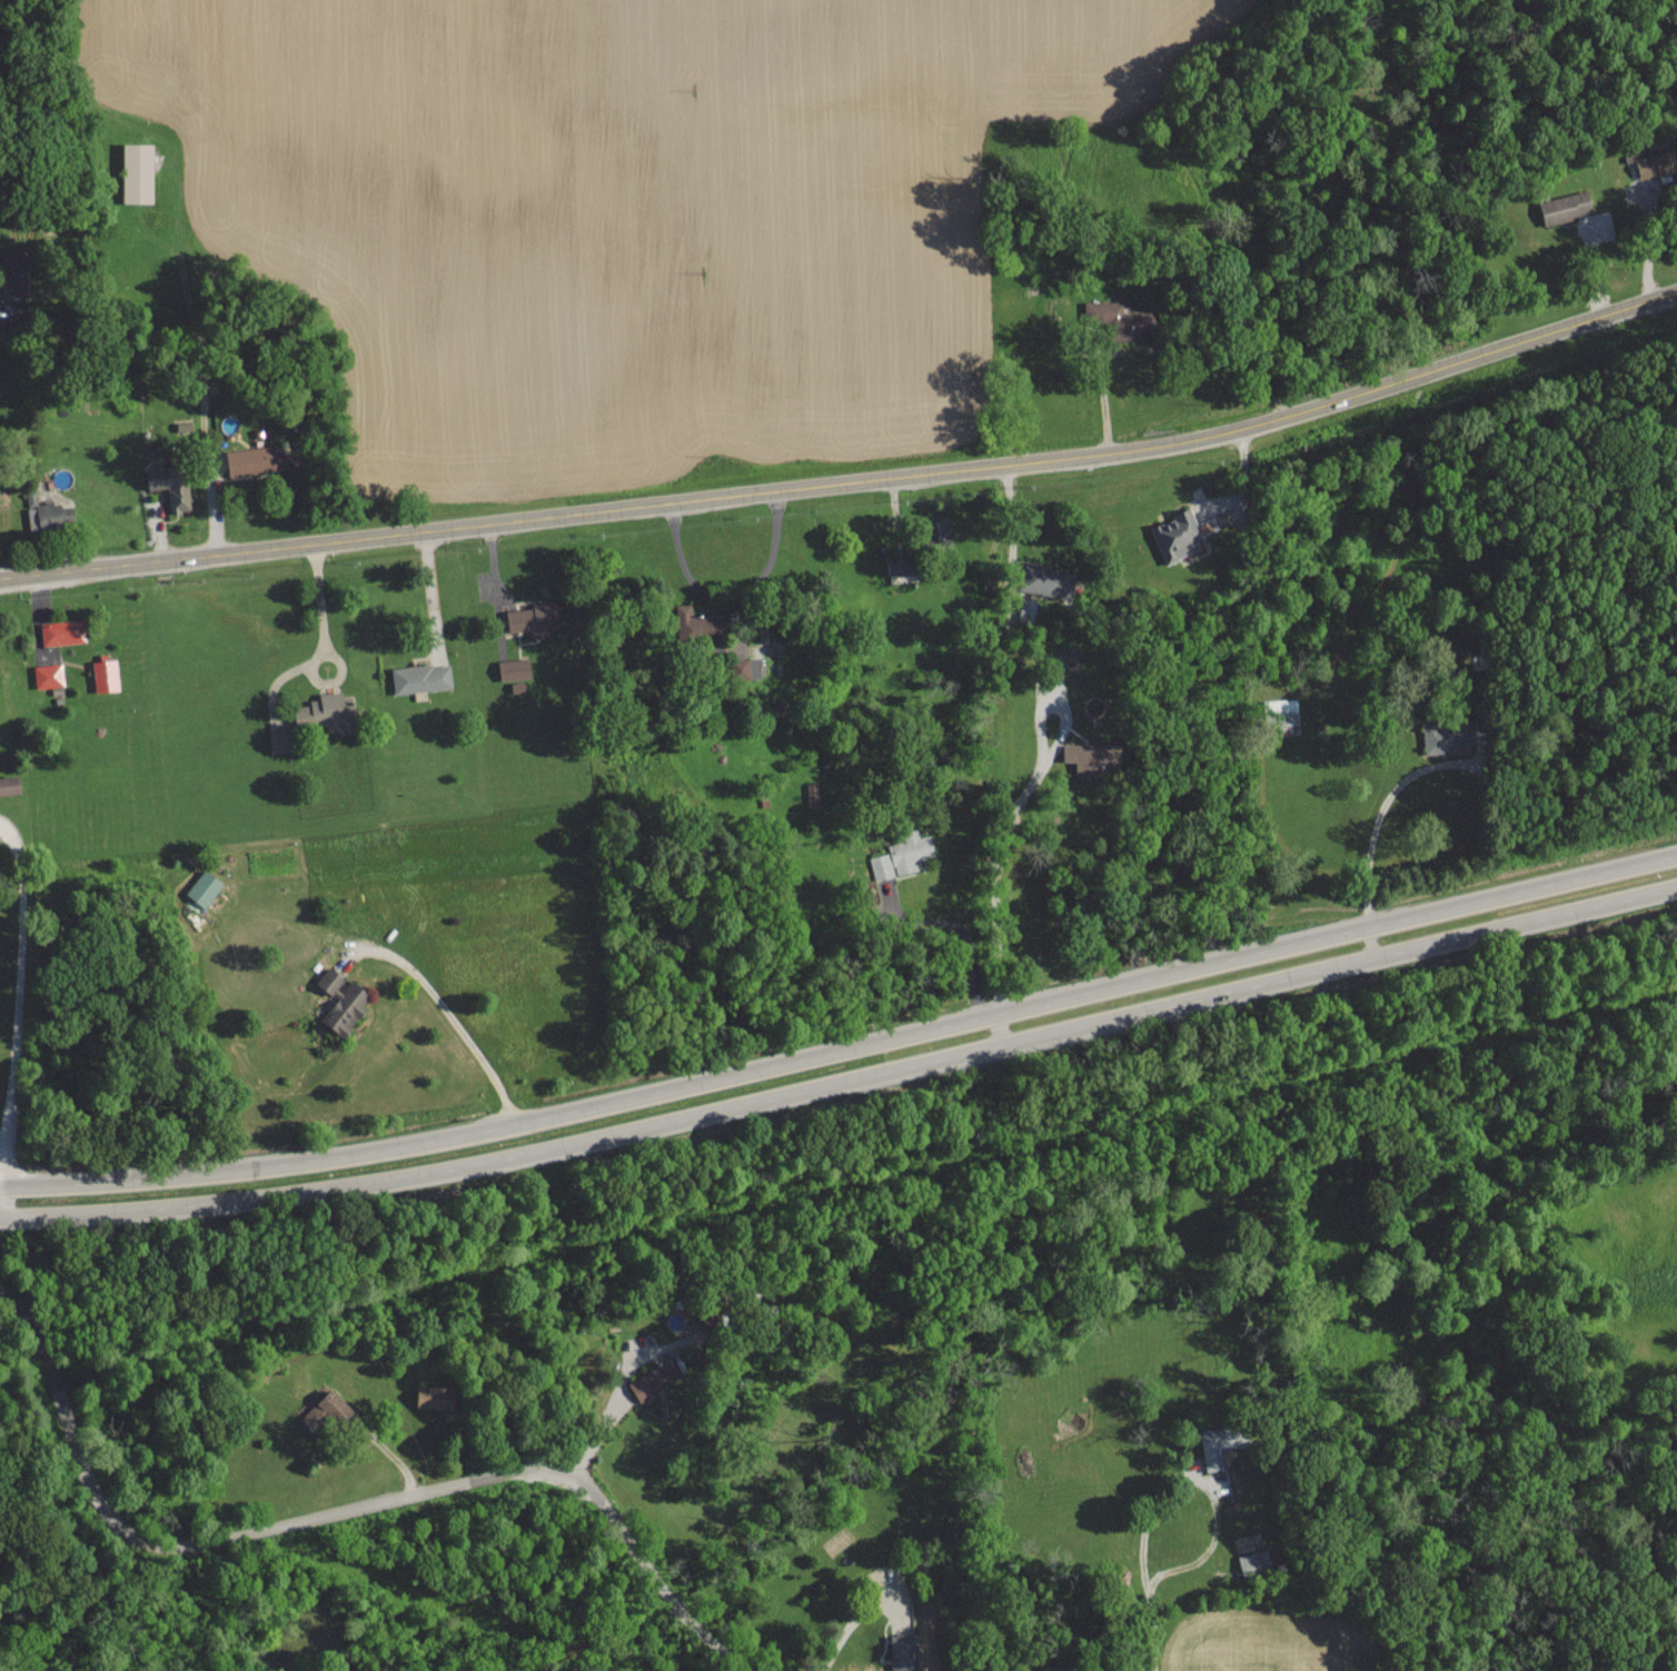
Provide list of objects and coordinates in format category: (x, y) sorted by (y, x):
building: (1656, 162)
building: (136, 171)
building: (1565, 207)
building: (14, 288)
building: (1118, 318)
road: (199, 372)
building: (254, 459)
road: (847, 483)
building: (169, 484)
building: (49, 515)
building: (937, 531)
building: (1177, 535)
building: (899, 568)
building: (1044, 580)
road: (434, 604)
building: (1025, 610)
road: (322, 617)
building: (533, 618)
building: (696, 621)
building: (58, 633)
building: (744, 667)
building: (513, 668)
building: (47, 675)
building: (105, 675)
building: (420, 677)
building: (324, 708)
building: (1442, 736)
building: (278, 739)
building: (1090, 756)
building: (9, 785)
building: (812, 794)
road: (1372, 847)
building: (901, 855)
road: (998, 883)
building: (202, 887)
road: (1526, 921)
road: (964, 927)
building: (340, 1001)
road: (453, 1014)
road: (999, 1030)
road: (843, 1051)
road: (17, 1057)
road: (691, 1113)
road: (12, 1283)
road: (1617, 1341)
building: (648, 1382)
building: (430, 1396)
building: (325, 1412)
road: (607, 1423)
building: (1215, 1445)
road: (1187, 1478)
road: (337, 1516)
building: (1253, 1562)
road: (1157, 1625)
road: (852, 1630)
road: (612, 1649)
building: (903, 1652)

